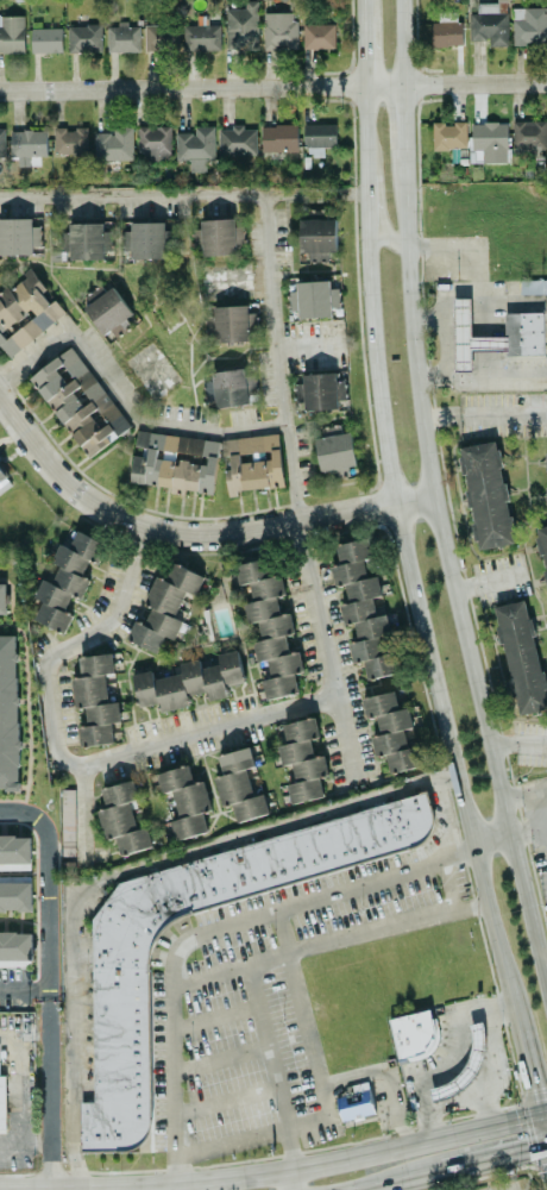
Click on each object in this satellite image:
road: (361, 7)
building: (528, 25)
building: (241, 26)
building: (279, 30)
building: (12, 33)
building: (446, 33)
building: (317, 36)
building: (161, 37)
building: (201, 37)
building: (84, 38)
building: (122, 38)
building: (46, 39)
road: (398, 43)
road: (363, 50)
road: (273, 87)
road: (401, 120)
road: (364, 130)
building: (448, 136)
building: (278, 138)
building: (317, 138)
building: (528, 138)
building: (70, 140)
building: (237, 140)
building: (155, 142)
building: (488, 142)
building: (27, 143)
building: (114, 144)
building: (196, 146)
road: (182, 196)
road: (364, 202)
building: (18, 236)
building: (220, 237)
building: (316, 237)
building: (145, 239)
building: (86, 240)
road: (383, 242)
road: (474, 278)
building: (313, 299)
building: (108, 309)
building: (24, 314)
building: (228, 322)
building: (523, 325)
road: (312, 339)
road: (446, 359)
building: (231, 387)
building: (319, 390)
road: (0, 394)
road: (124, 397)
building: (78, 401)
road: (483, 413)
building: (334, 450)
building: (175, 462)
building: (252, 462)
building: (546, 464)
building: (4, 481)
road: (296, 493)
building: (485, 495)
road: (189, 532)
building: (543, 549)
building: (65, 581)
road: (451, 581)
road: (486, 582)
building: (2, 599)
building: (164, 607)
building: (270, 628)
road: (422, 633)
building: (521, 657)
building: (8, 713)
building: (390, 731)
road: (516, 743)
road: (68, 754)
building: (302, 759)
building: (238, 785)
road: (522, 790)
building: (186, 801)
road: (543, 801)
road: (83, 812)
road: (445, 813)
building: (121, 818)
building: (68, 821)
road: (527, 827)
road: (490, 837)
building: (14, 852)
road: (122, 870)
road: (448, 884)
building: (15, 892)
road: (386, 926)
road: (210, 927)
building: (15, 948)
road: (49, 959)
road: (542, 964)
road: (230, 969)
road: (25, 989)
road: (214, 1015)
building: (121, 1032)
building: (414, 1035)
road: (266, 1045)
road: (493, 1054)
road: (220, 1059)
road: (436, 1060)
road: (529, 1072)
road: (388, 1077)
road: (322, 1090)
road: (21, 1095)
road: (225, 1098)
building: (2, 1103)
building: (354, 1104)
traffic signals: (540, 1115)
road: (542, 1130)
road: (36, 1141)
traffic signals: (545, 1147)
road: (288, 1150)
road: (546, 1152)
road: (50, 1165)
road: (457, 1167)
road: (276, 1172)
road: (293, 1180)
road: (50, 1189)
road: (77, 1189)

